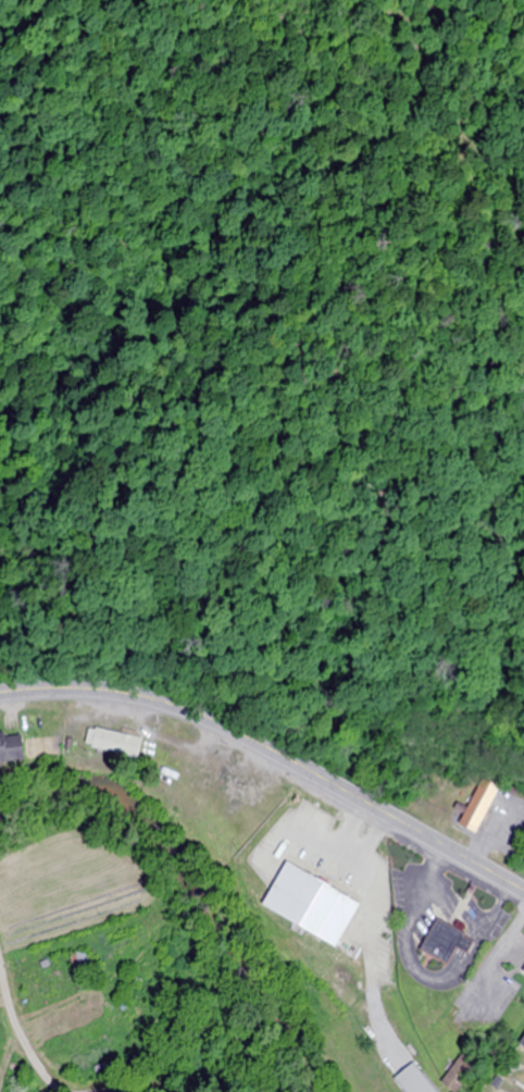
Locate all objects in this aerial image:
building: (111, 744)
road: (274, 747)
building: (10, 748)
building: (477, 805)
river: (196, 881)
building: (440, 939)
road: (502, 943)
building: (77, 970)
road: (422, 970)
building: (522, 973)
building: (521, 1044)
building: (456, 1075)
road: (50, 1079)
building: (411, 1080)

